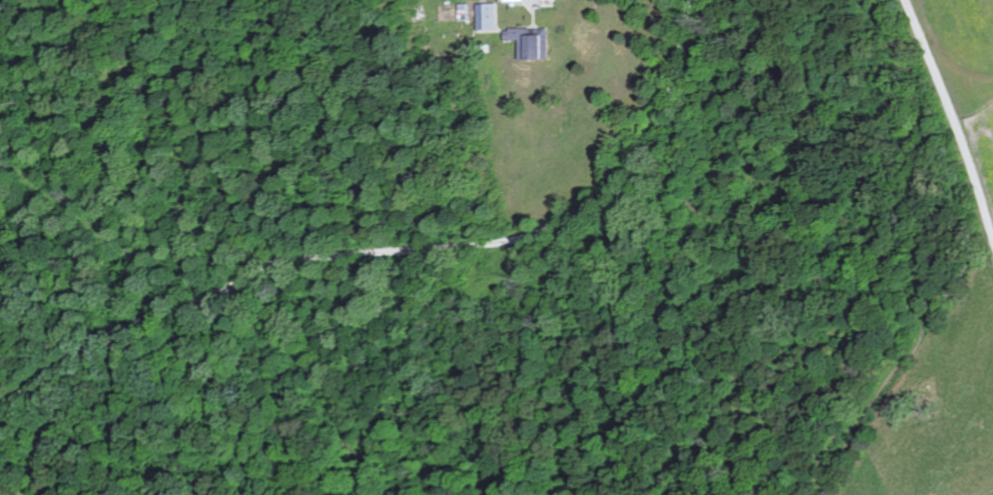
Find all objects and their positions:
building: (514, 1)
building: (489, 17)
building: (534, 45)
road: (400, 251)

